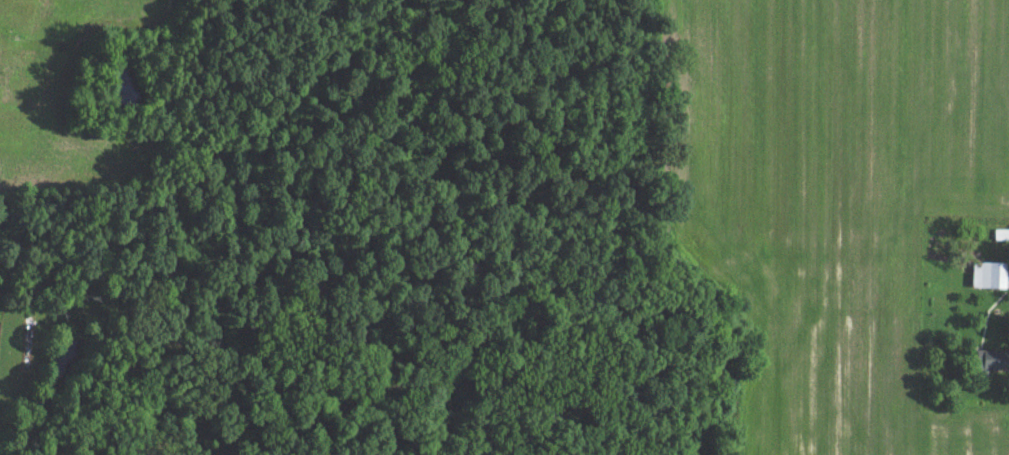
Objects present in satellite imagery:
building: (998, 239)
building: (981, 279)
building: (984, 363)

